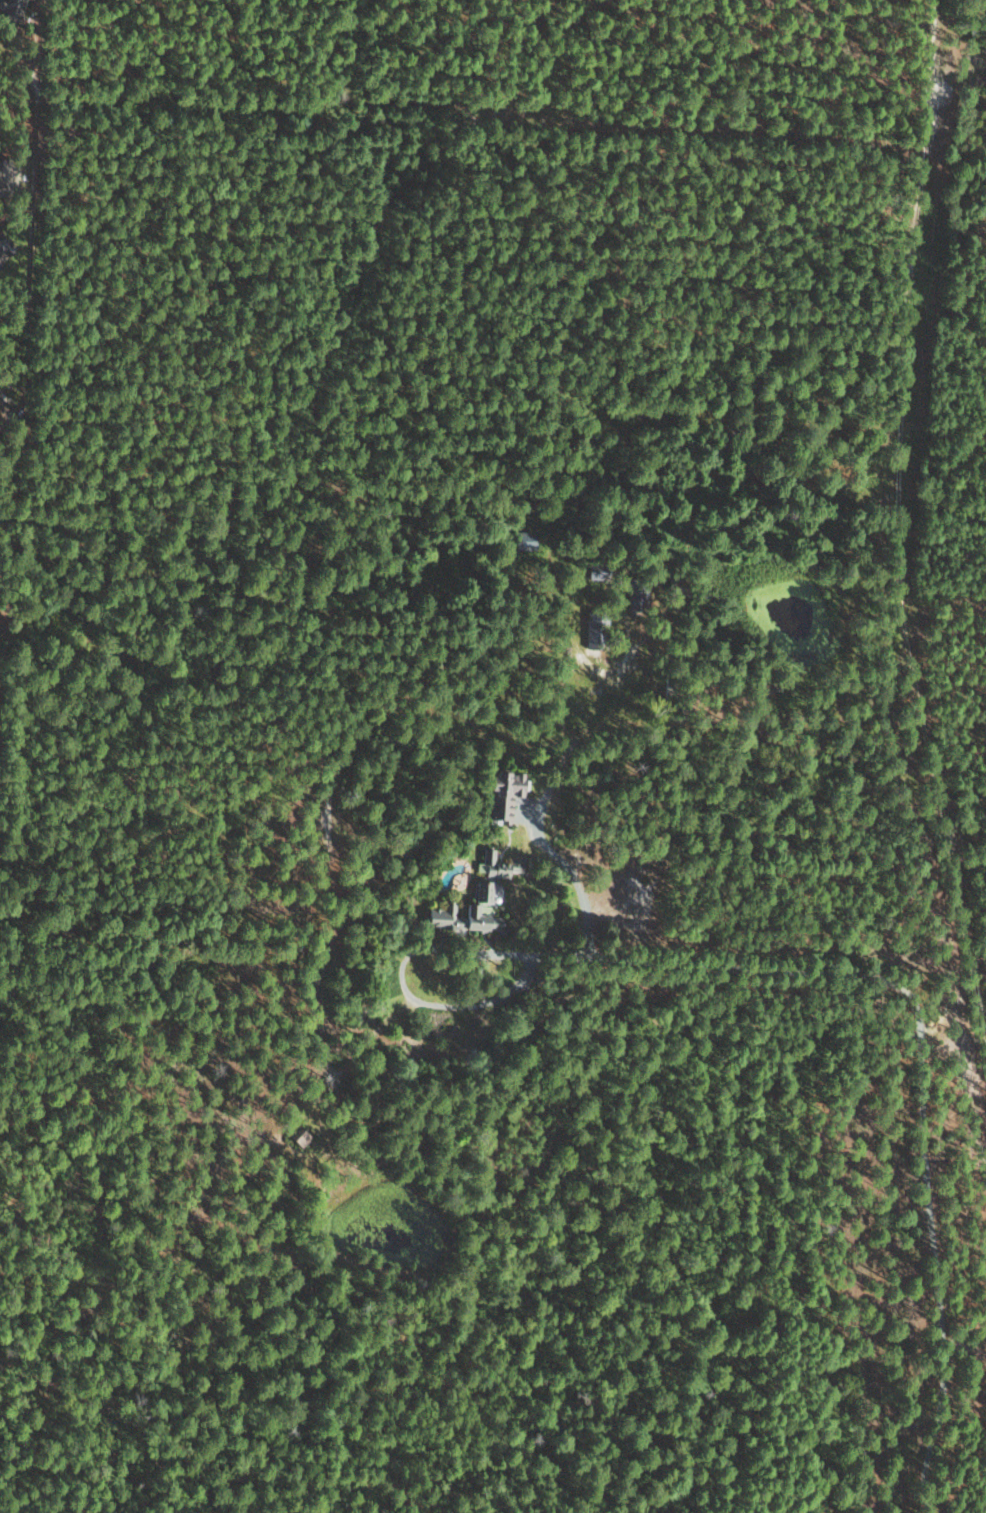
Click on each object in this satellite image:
building: (2, 178)
building: (2, 249)
building: (525, 539)
building: (499, 794)
building: (496, 864)
building: (463, 914)
road: (919, 1052)
building: (298, 1135)

